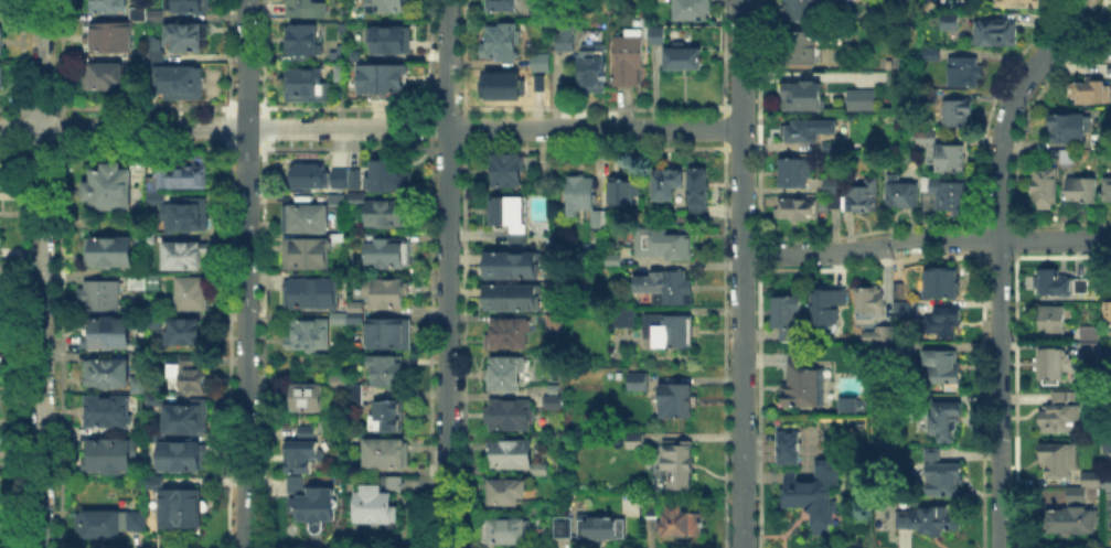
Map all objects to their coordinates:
building: (1018, 3)
building: (501, 4)
building: (110, 7)
building: (189, 7)
building: (388, 7)
building: (308, 9)
building: (0, 10)
building: (800, 10)
building: (692, 11)
building: (139, 17)
building: (154, 18)
building: (952, 21)
building: (0, 30)
building: (992, 32)
building: (659, 36)
building: (499, 39)
building: (111, 40)
building: (186, 40)
building: (568, 40)
building: (305, 41)
building: (2, 42)
building: (394, 42)
building: (810, 46)
building: (156, 47)
building: (932, 53)
building: (138, 57)
building: (630, 58)
building: (538, 60)
building: (687, 60)
road: (447, 64)
building: (596, 65)
building: (342, 73)
building: (965, 73)
building: (105, 77)
building: (1, 78)
building: (891, 78)
building: (382, 80)
building: (537, 82)
building: (309, 83)
building: (502, 84)
building: (182, 86)
building: (1091, 90)
building: (804, 98)
building: (863, 104)
building: (954, 110)
road: (370, 129)
building: (1064, 130)
building: (811, 131)
building: (927, 136)
building: (1098, 138)
building: (1055, 155)
building: (1069, 158)
building: (952, 160)
building: (139, 163)
building: (504, 166)
building: (310, 173)
building: (794, 173)
building: (185, 174)
building: (354, 175)
building: (388, 176)
building: (153, 181)
building: (667, 183)
building: (336, 185)
building: (1046, 186)
building: (702, 187)
building: (1108, 190)
building: (624, 191)
building: (1083, 191)
building: (111, 193)
building: (580, 194)
building: (854, 194)
building: (902, 194)
building: (950, 196)
building: (340, 204)
building: (799, 209)
building: (382, 211)
building: (508, 214)
building: (186, 215)
building: (607, 215)
building: (597, 218)
building: (306, 219)
building: (341, 235)
road: (926, 240)
building: (662, 243)
building: (111, 252)
building: (389, 254)
building: (307, 255)
building: (189, 256)
building: (612, 259)
road: (1000, 260)
building: (515, 267)
road: (42, 273)
road: (246, 273)
road: (741, 273)
building: (140, 283)
building: (944, 283)
building: (667, 286)
building: (1058, 286)
building: (1081, 286)
building: (1, 292)
building: (313, 293)
building: (385, 294)
building: (194, 297)
building: (514, 299)
building: (106, 300)
building: (870, 304)
building: (827, 305)
building: (356, 307)
building: (898, 307)
building: (1108, 309)
building: (786, 313)
building: (1055, 319)
building: (349, 321)
building: (627, 321)
building: (157, 322)
building: (944, 323)
building: (671, 331)
building: (185, 333)
building: (888, 334)
building: (1090, 334)
building: (510, 335)
building: (111, 336)
building: (310, 336)
building: (391, 336)
road: (447, 339)
building: (1090, 348)
building: (1053, 364)
building: (944, 372)
building: (388, 374)
building: (189, 375)
building: (108, 376)
building: (506, 376)
building: (339, 379)
building: (640, 383)
building: (804, 384)
building: (357, 396)
building: (303, 397)
building: (551, 400)
building: (846, 401)
building: (157, 402)
building: (677, 402)
building: (110, 413)
building: (1062, 415)
building: (947, 416)
building: (510, 417)
building: (388, 418)
building: (190, 419)
building: (308, 431)
building: (635, 441)
building: (1105, 445)
building: (788, 449)
building: (508, 452)
building: (387, 455)
building: (303, 458)
building: (115, 459)
building: (188, 459)
building: (1058, 461)
building: (681, 465)
building: (537, 466)
building: (942, 475)
building: (1096, 481)
building: (1108, 482)
building: (297, 485)
building: (395, 485)
building: (504, 490)
building: (814, 494)
building: (1079, 497)
building: (530, 505)
building: (318, 507)
building: (375, 507)
building: (651, 508)
building: (184, 509)
building: (930, 520)
building: (1073, 520)
building: (683, 524)
building: (100, 525)
building: (560, 525)
building: (597, 525)
building: (506, 534)

